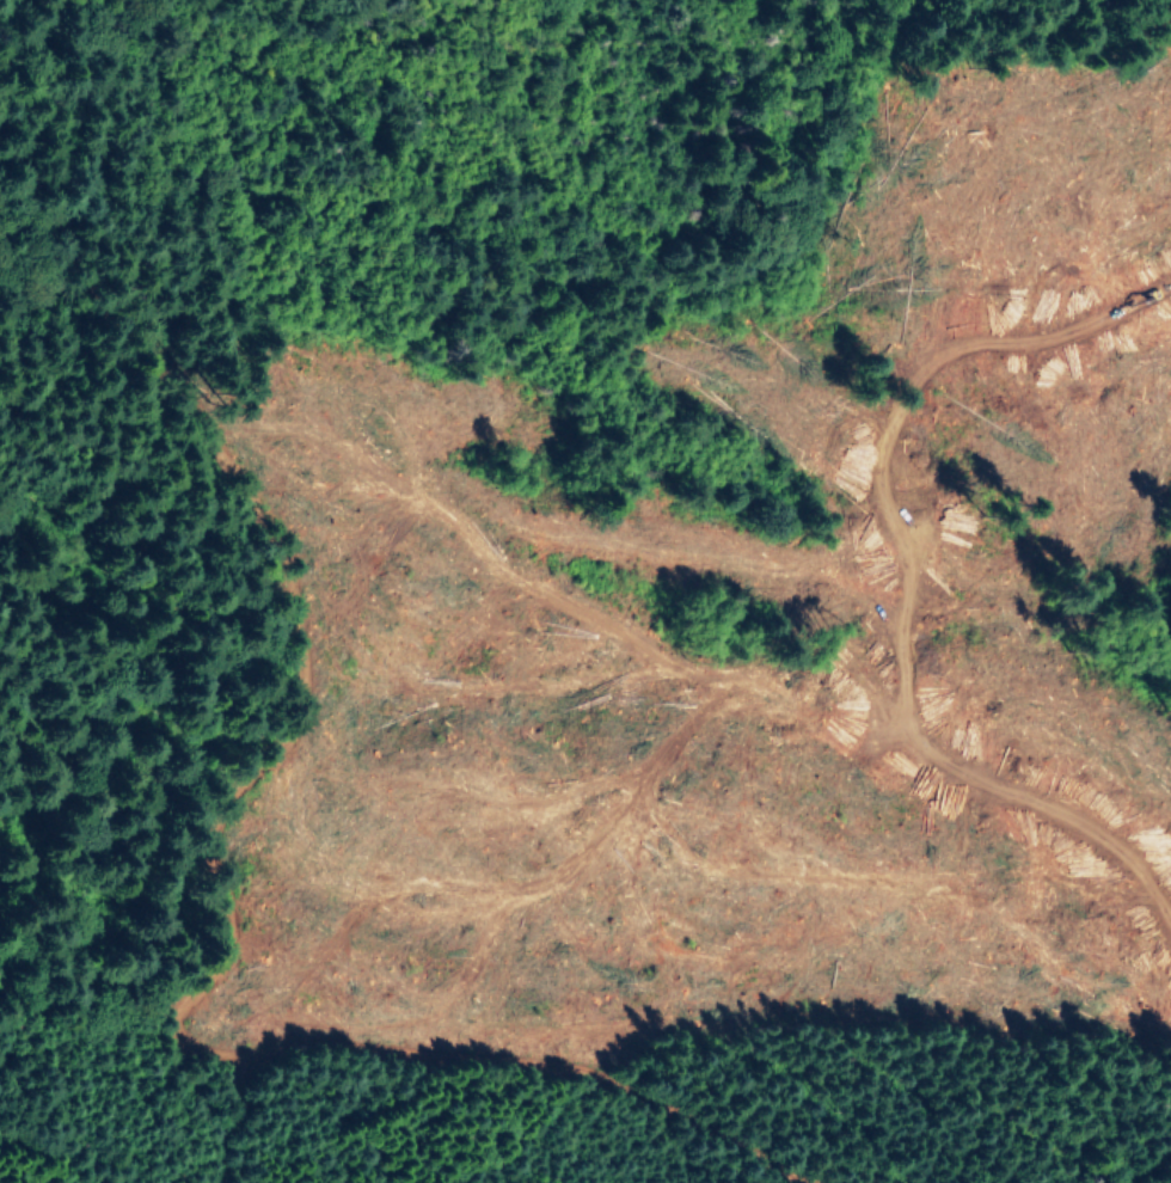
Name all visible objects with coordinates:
road: (276, 578)
road: (519, 1030)

